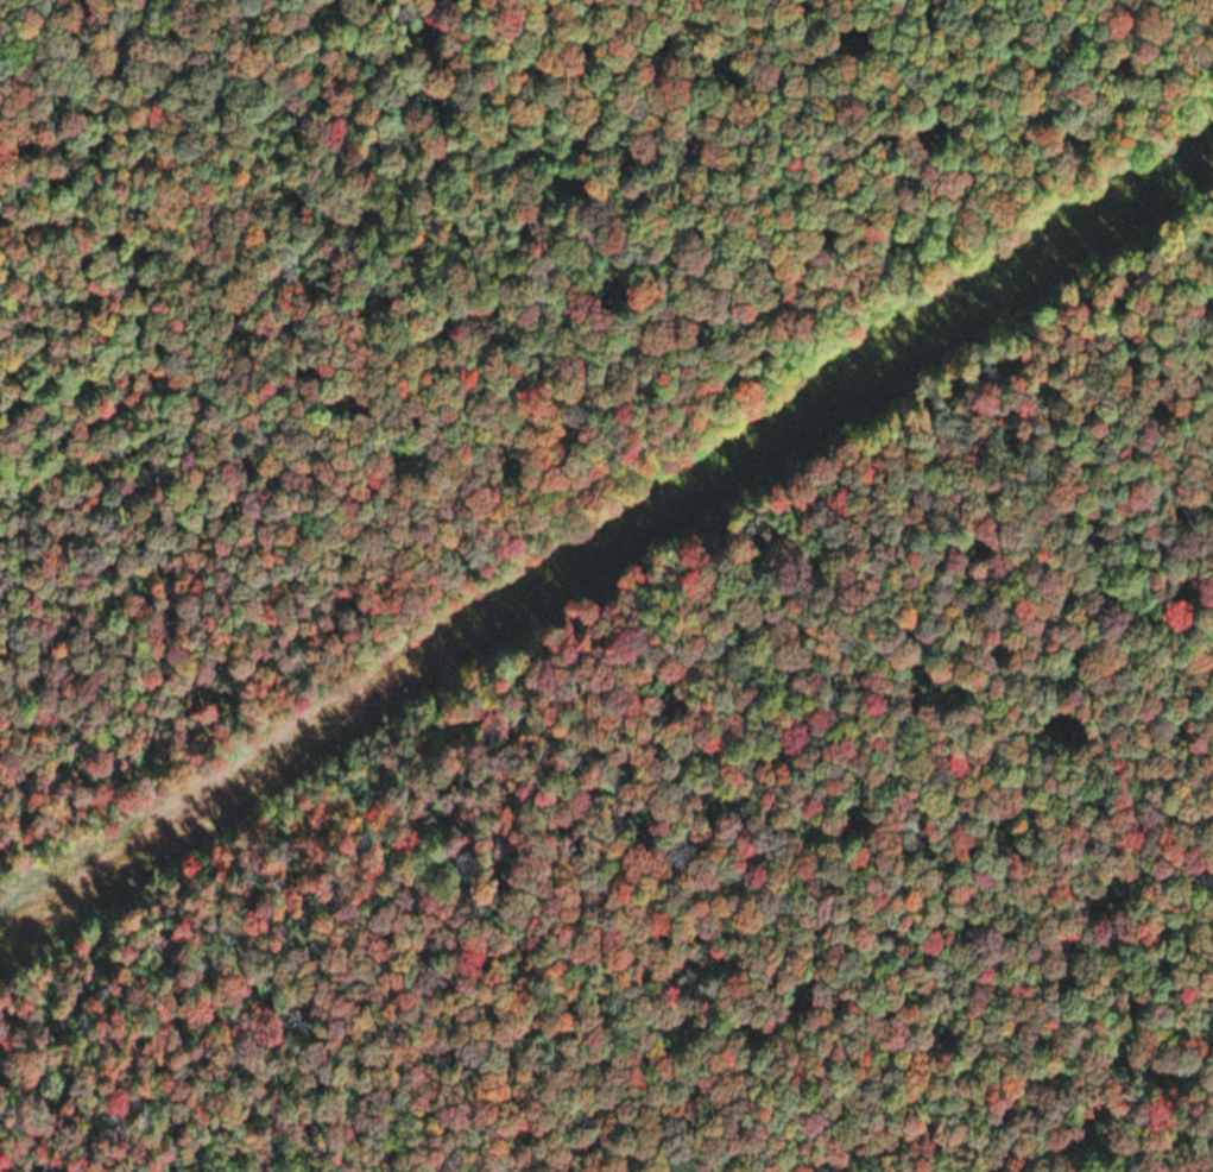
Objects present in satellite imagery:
road: (5, 1)

